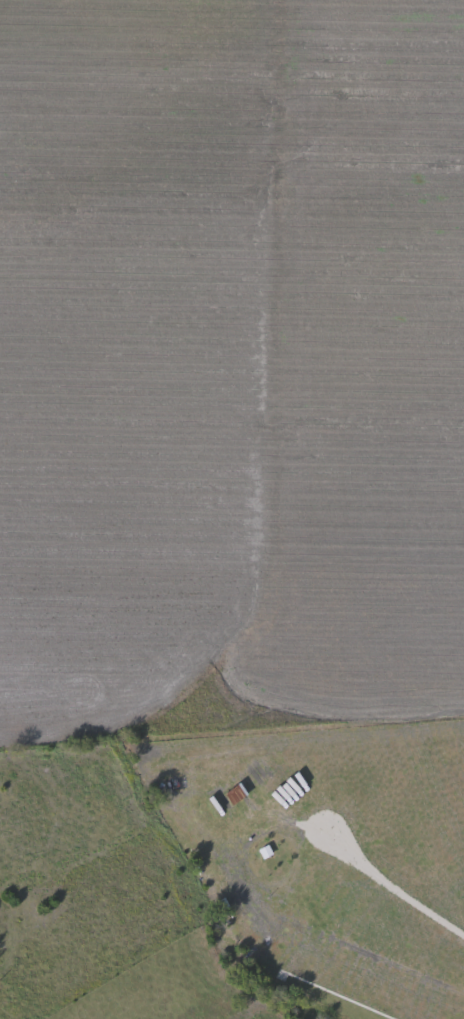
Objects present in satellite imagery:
road: (392, 886)
road: (336, 942)

